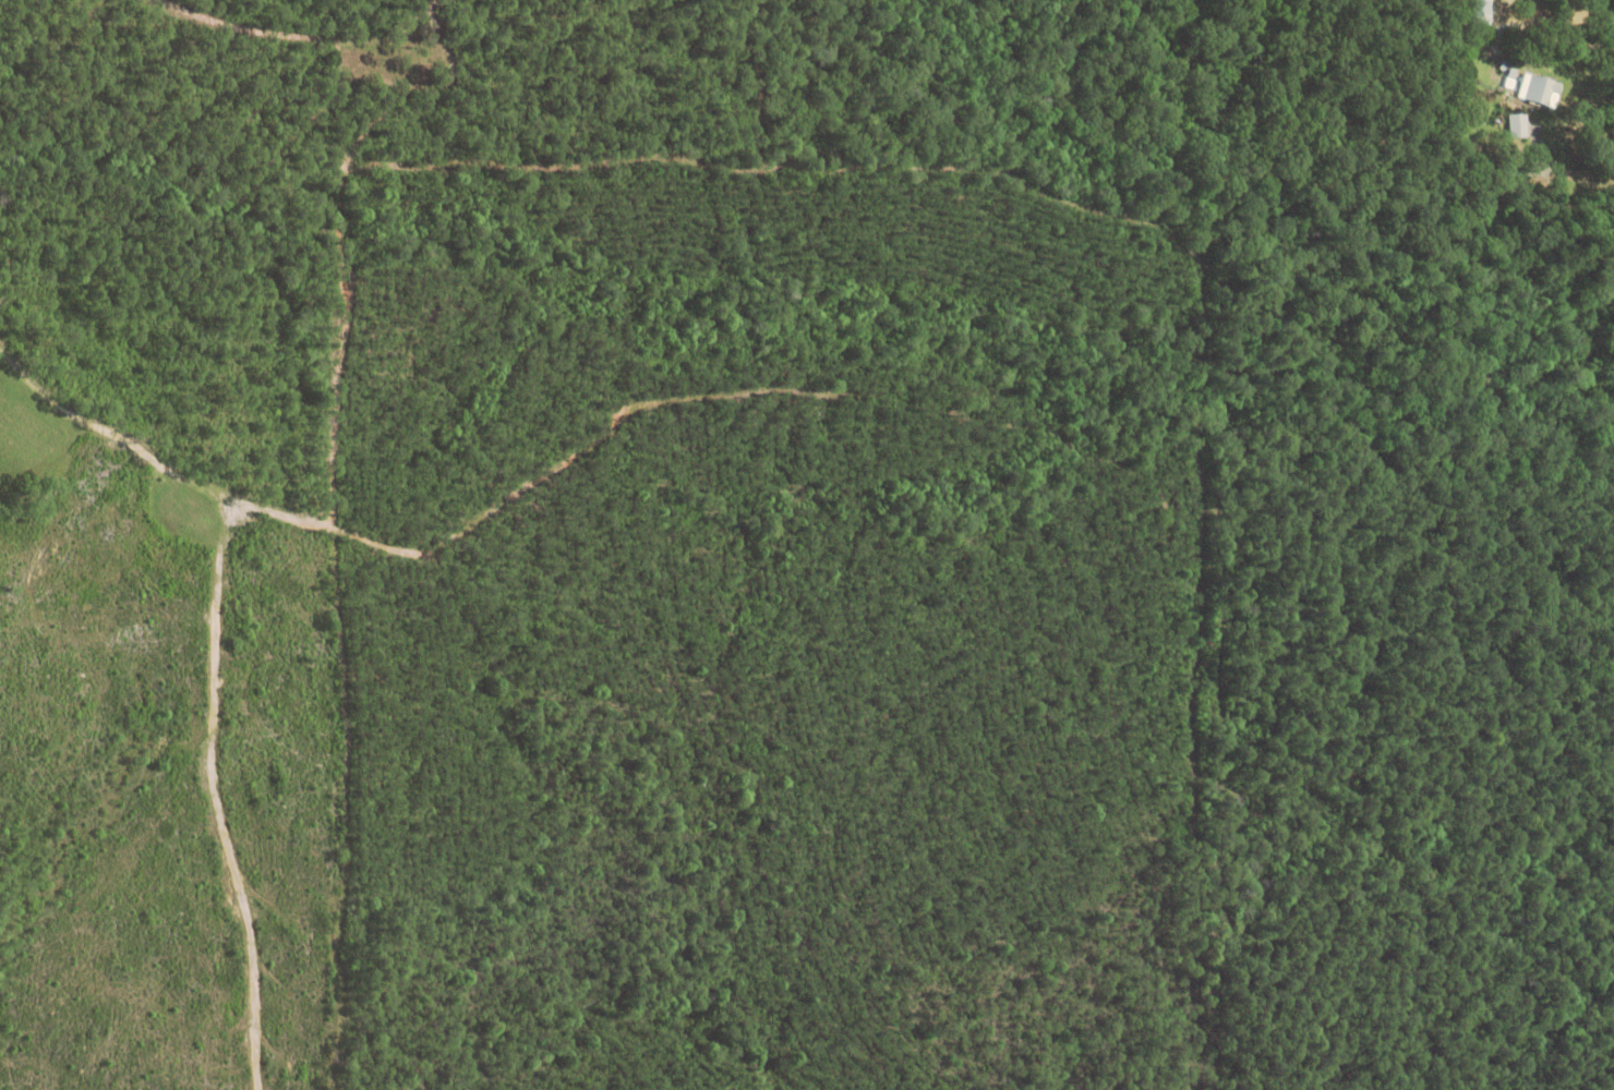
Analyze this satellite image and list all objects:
building: (1479, 12)
building: (1477, 46)
building: (1534, 88)
building: (1517, 123)
building: (1506, 169)
road: (1555, 172)

